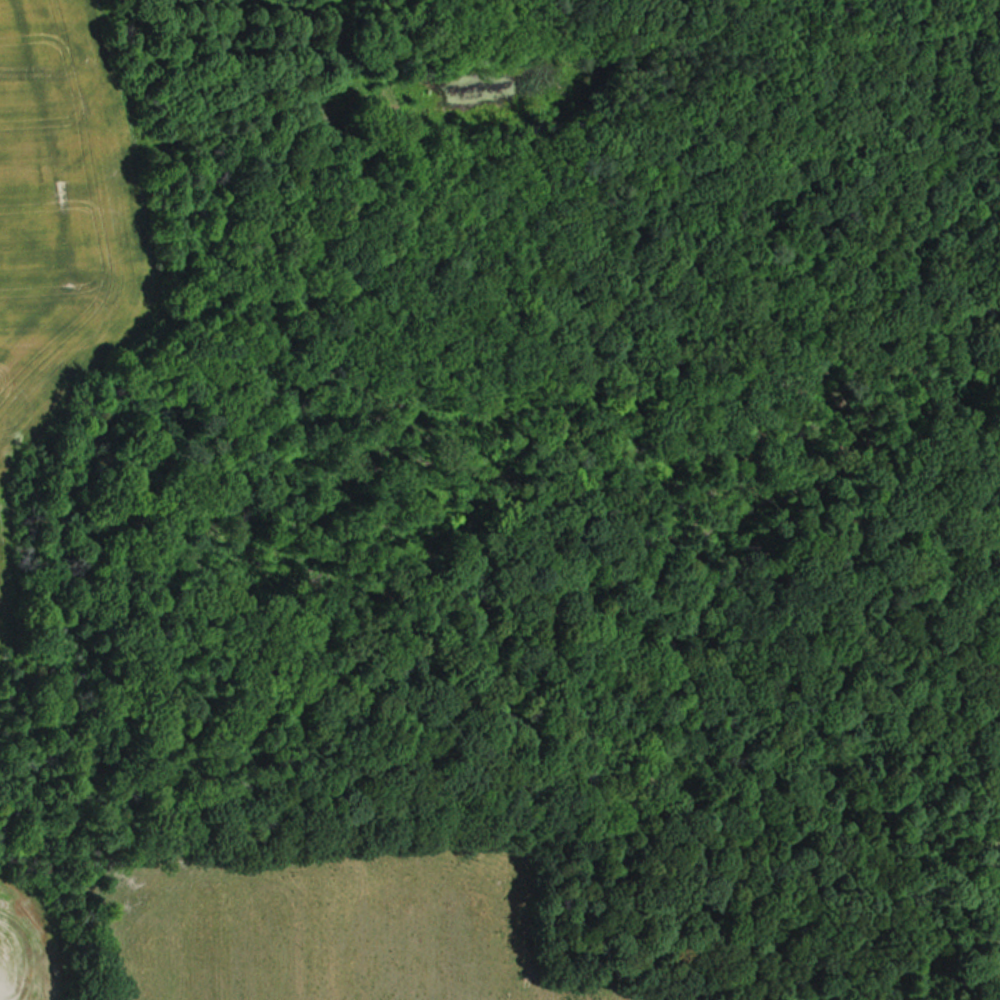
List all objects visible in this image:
building: (997, 999)

